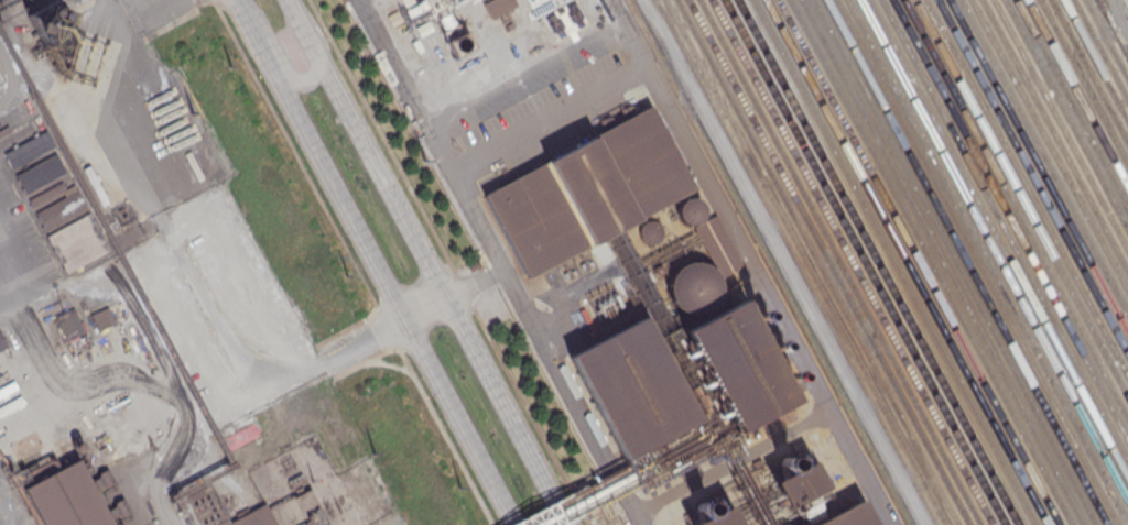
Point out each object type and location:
building: (405, 1)
building: (498, 7)
building: (415, 8)
railway: (1111, 29)
railway: (1106, 40)
building: (459, 43)
chimney: (456, 50)
railway: (665, 50)
railway: (1100, 51)
road: (283, 58)
railway: (1095, 61)
railway: (1089, 70)
road: (524, 73)
railway: (1084, 81)
railway: (1077, 94)
road: (116, 102)
parking lot: (539, 102)
railway: (1072, 103)
railway: (1066, 114)
road: (549, 118)
railway: (1060, 125)
railway: (1054, 135)
building: (18, 142)
railway: (1049, 146)
building: (31, 153)
railway: (1043, 156)
road: (319, 158)
road: (444, 163)
railway: (1038, 167)
building: (40, 173)
railway: (1032, 177)
railway: (1027, 188)
building: (588, 192)
building: (46, 193)
railway: (1021, 198)
railway: (1016, 209)
building: (61, 210)
railway: (1009, 220)
railway: (1004, 230)
railway: (998, 240)
building: (77, 241)
building: (717, 244)
railway: (993, 251)
road: (352, 262)
road: (429, 262)
road: (449, 262)
power plant: (621, 262)
road: (753, 262)
railway: (774, 262)
railway: (795, 262)
railway: (806, 262)
railway: (817, 262)
railway: (828, 262)
railway: (840, 262)
railway: (852, 262)
railway: (865, 262)
railway: (879, 262)
railway: (894, 262)
railway: (907, 262)
railway: (919, 262)
railway: (931, 262)
railway: (943, 262)
railway: (954, 262)
railway: (966, 262)
railway: (977, 262)
railway: (987, 262)
road: (19, 277)
road: (570, 291)
road: (425, 306)
chimney: (757, 316)
building: (101, 318)
building: (68, 326)
chimney: (773, 347)
road: (243, 363)
chimney: (790, 376)
building: (685, 386)
road: (572, 397)
road: (459, 420)
chimney: (785, 460)
power substation: (319, 489)
building: (803, 494)
building: (67, 497)
chimney: (701, 506)
building: (722, 516)
building: (254, 517)

